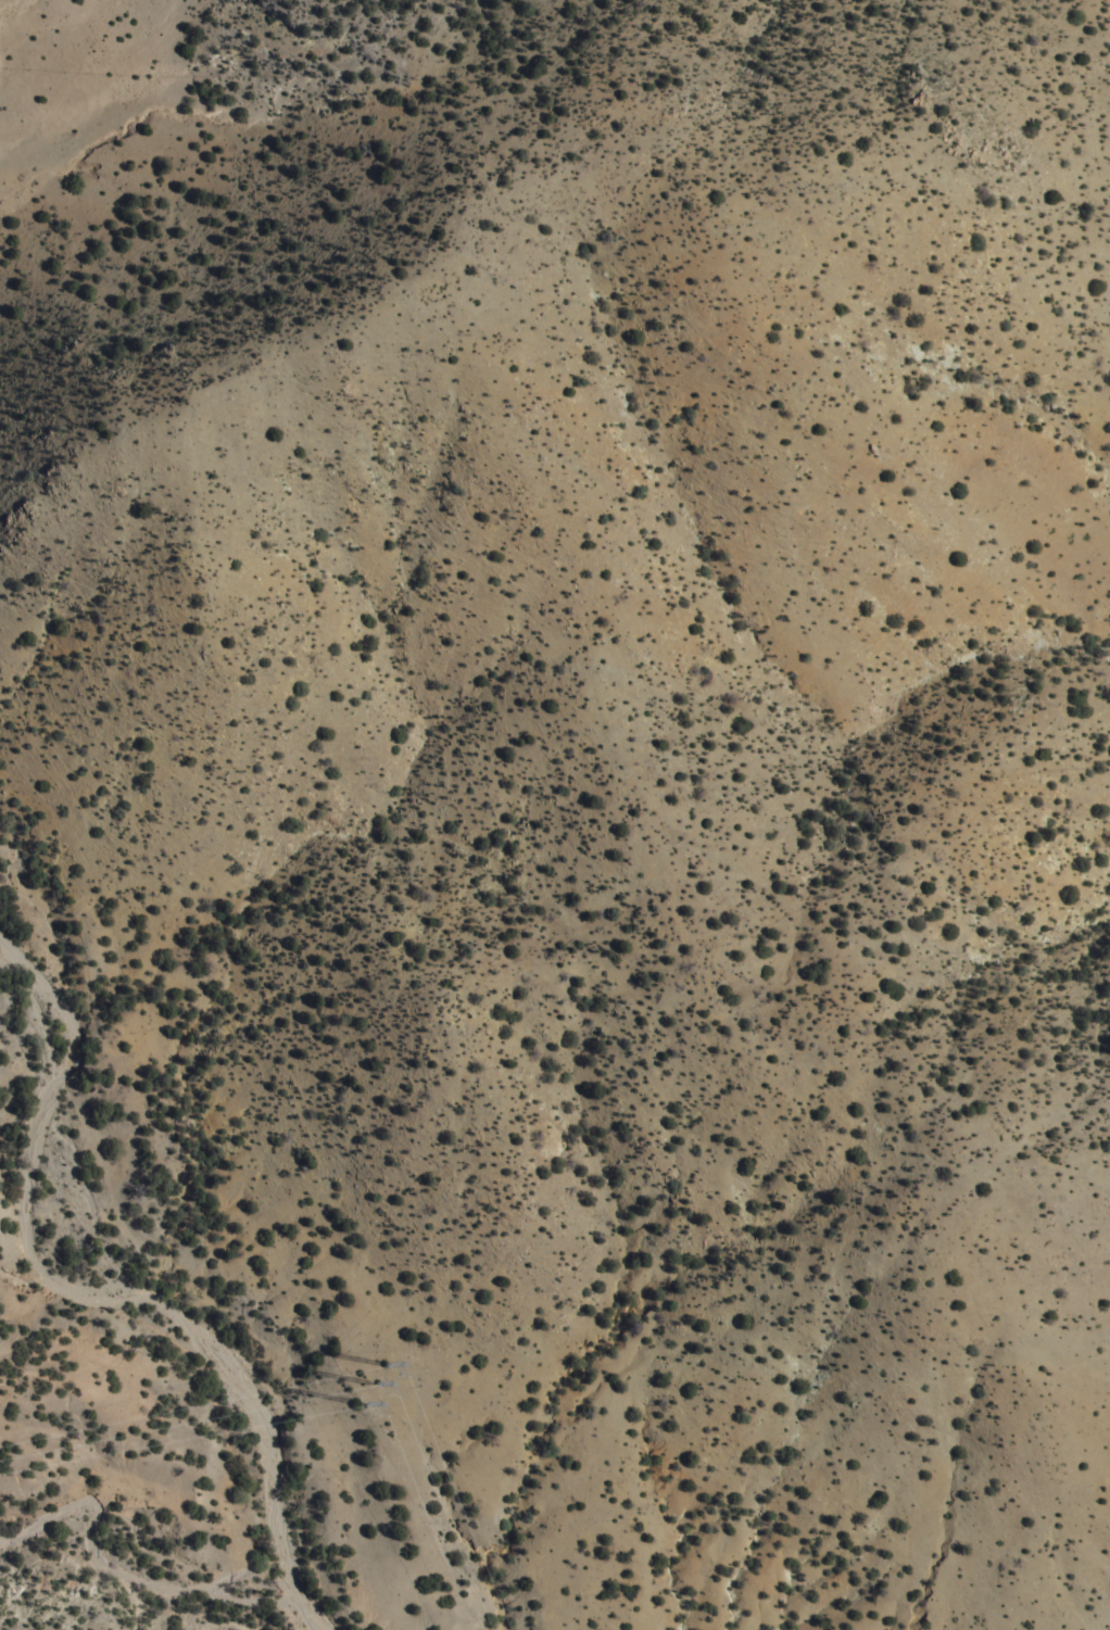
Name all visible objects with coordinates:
power tower: (371, 1383)

